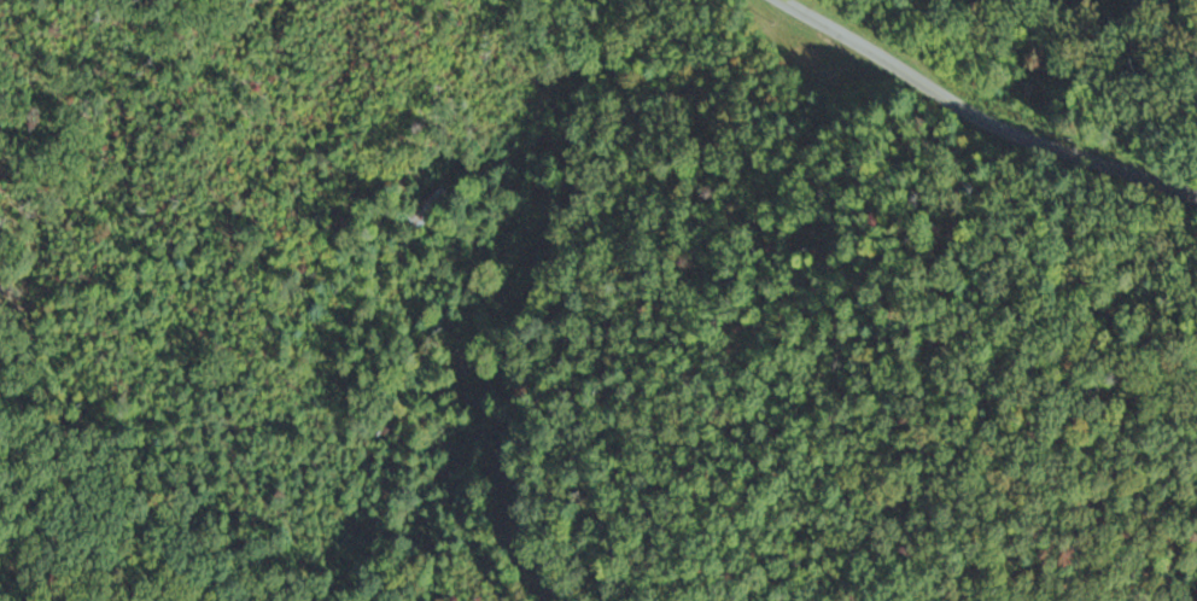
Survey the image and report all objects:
road: (981, 115)
road: (564, 202)
road: (491, 491)

